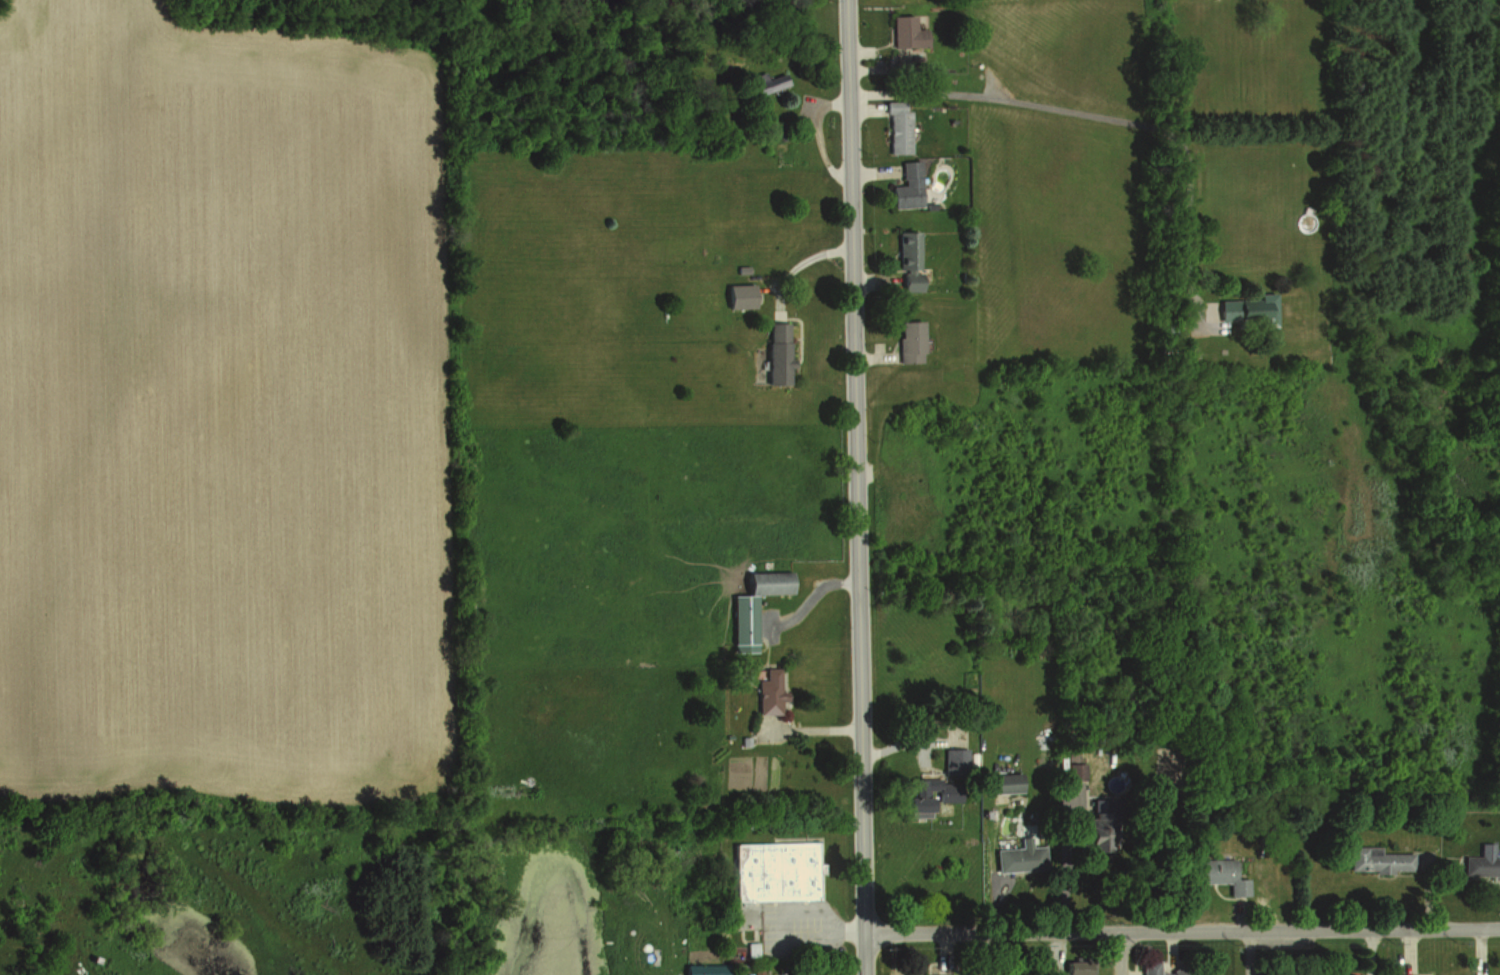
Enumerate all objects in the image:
building: (902, 32)
building: (765, 80)
road: (1100, 119)
building: (894, 127)
building: (905, 186)
building: (908, 260)
building: (739, 296)
building: (1244, 310)
building: (908, 342)
building: (776, 352)
crop: (229, 408)
road: (854, 487)
building: (761, 583)
road: (810, 599)
building: (738, 626)
building: (763, 693)
building: (1071, 770)
building: (1003, 782)
building: (919, 789)
building: (1016, 858)
building: (1374, 859)
building: (1479, 861)
building: (773, 872)
building: (1215, 874)
road: (1181, 931)
road: (823, 933)
road: (1121, 953)
building: (1147, 965)
building: (1072, 967)
building: (702, 969)
building: (939, 974)

